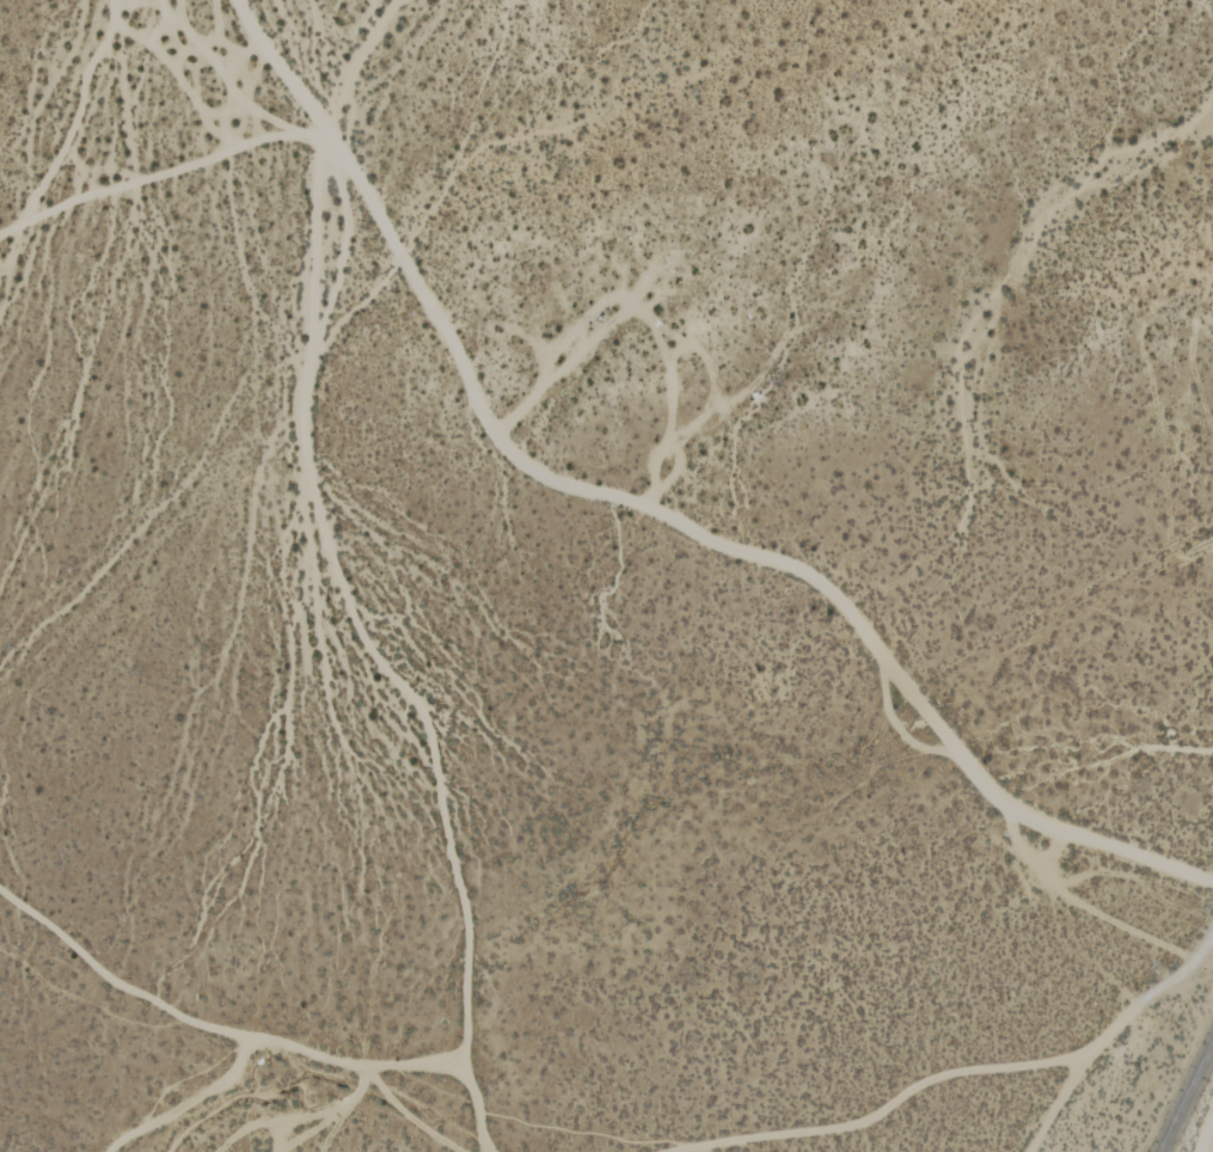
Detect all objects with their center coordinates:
railway: (1187, 1099)
road: (1205, 1133)

